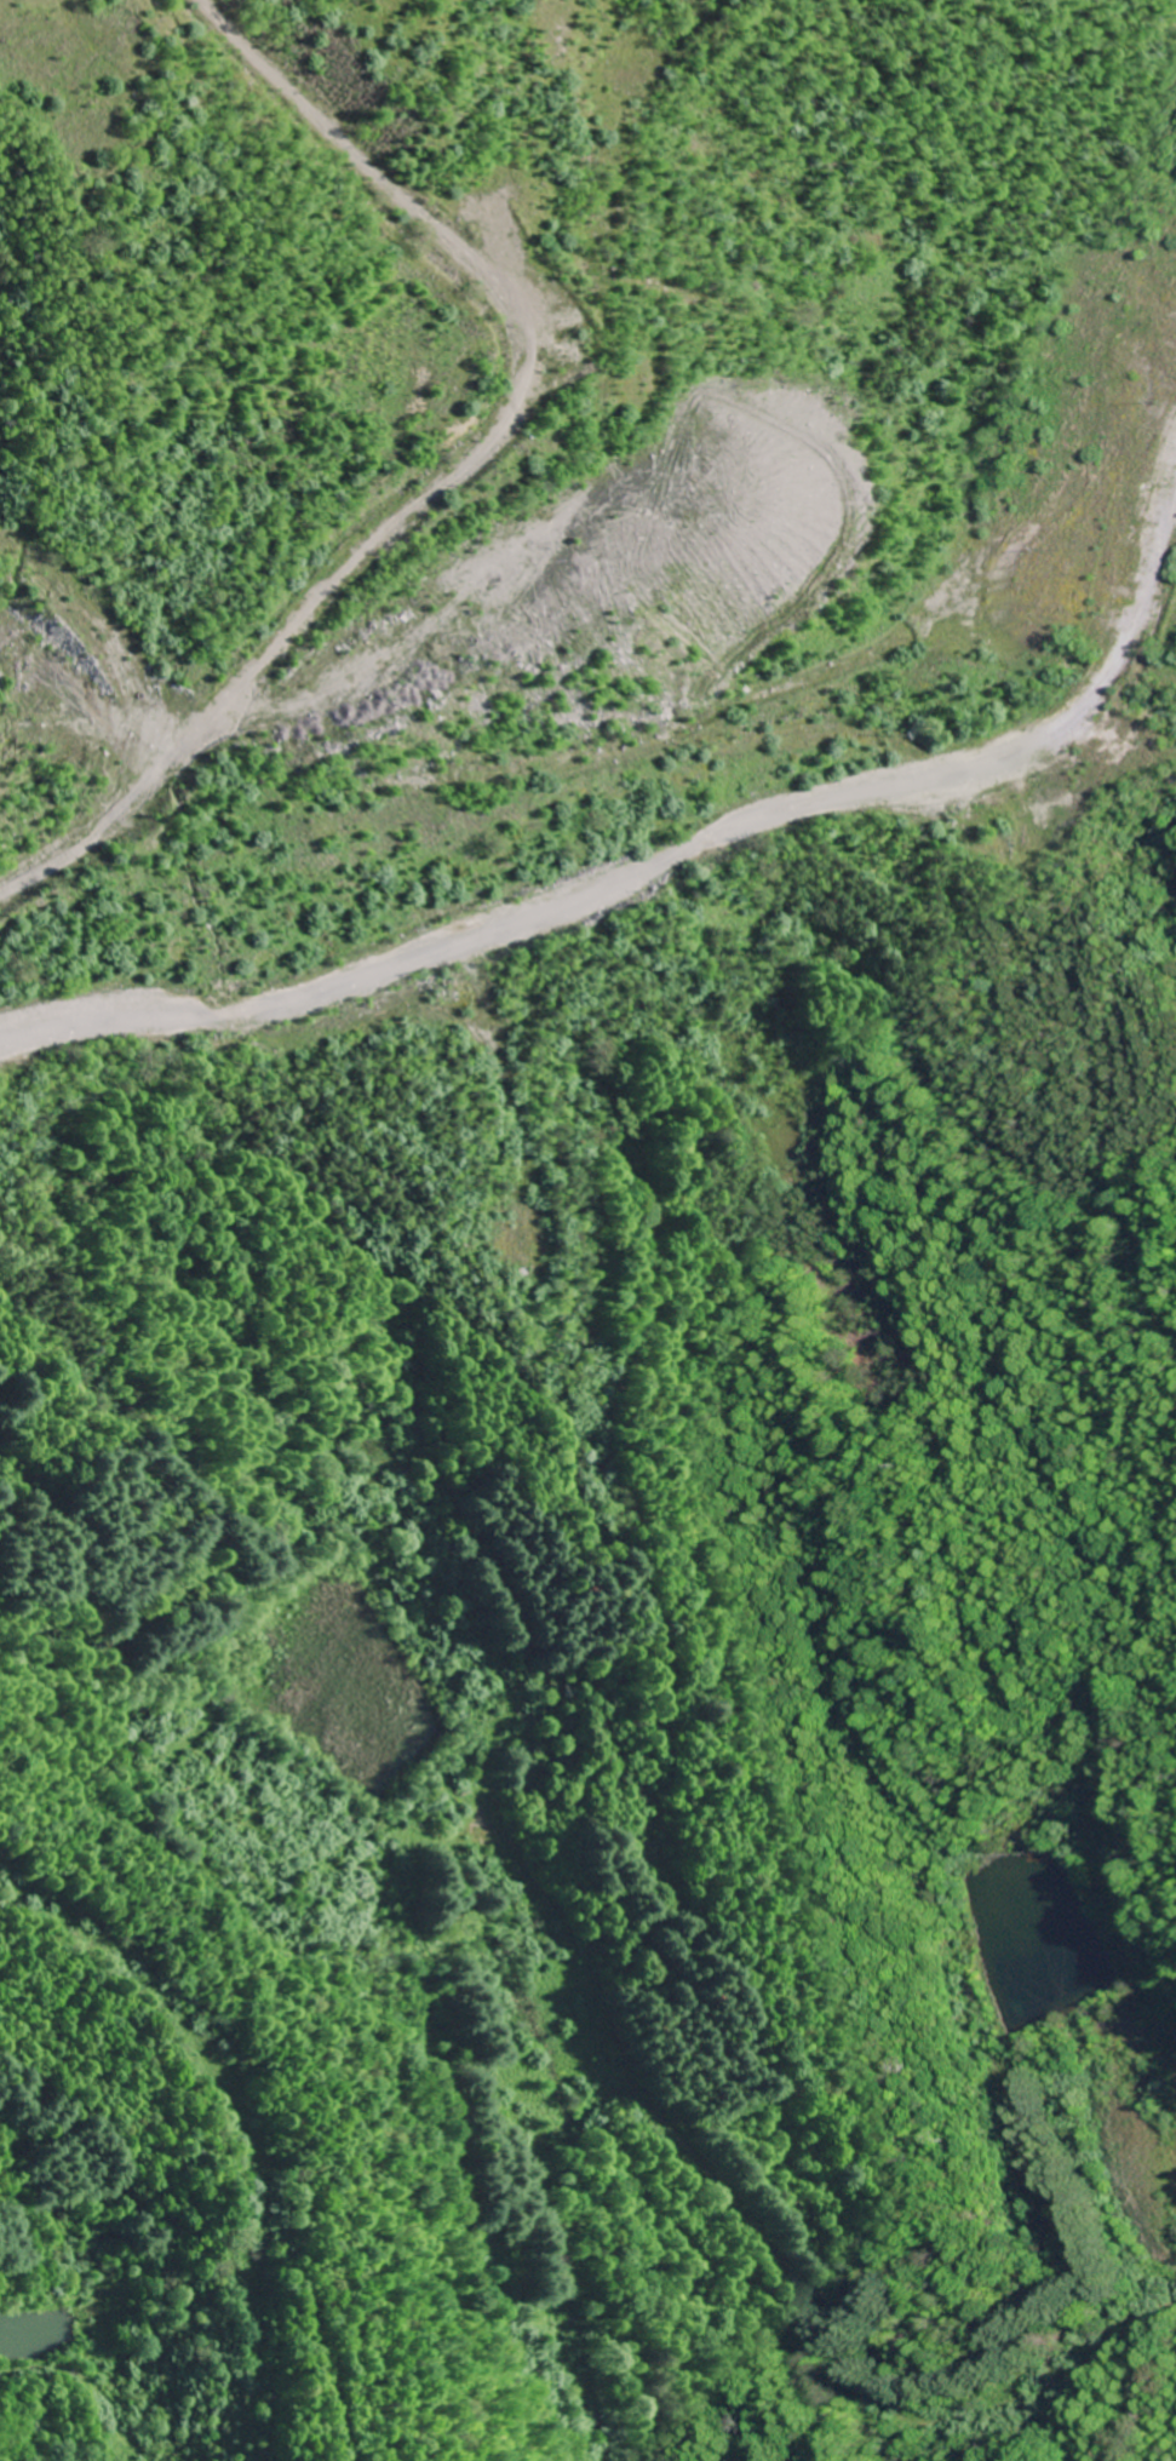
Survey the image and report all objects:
road: (460, 469)
road: (670, 857)
road: (981, 1082)
road: (190, 2017)
road: (741, 2196)
road: (90, 2387)

